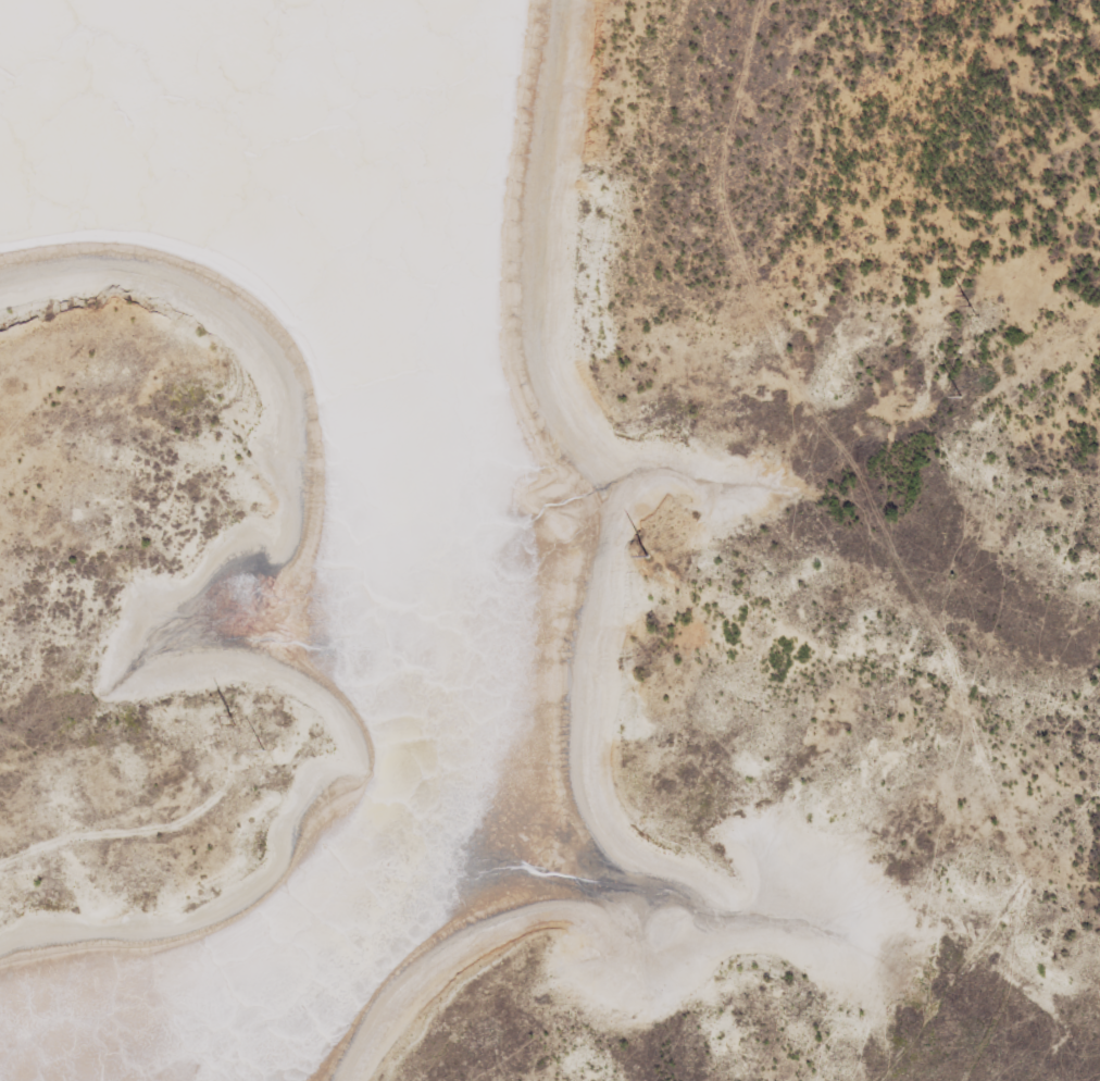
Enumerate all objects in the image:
power tower: (970, 306)
power tower: (960, 395)
power tower: (648, 555)
power tower: (234, 718)
power tower: (265, 748)

